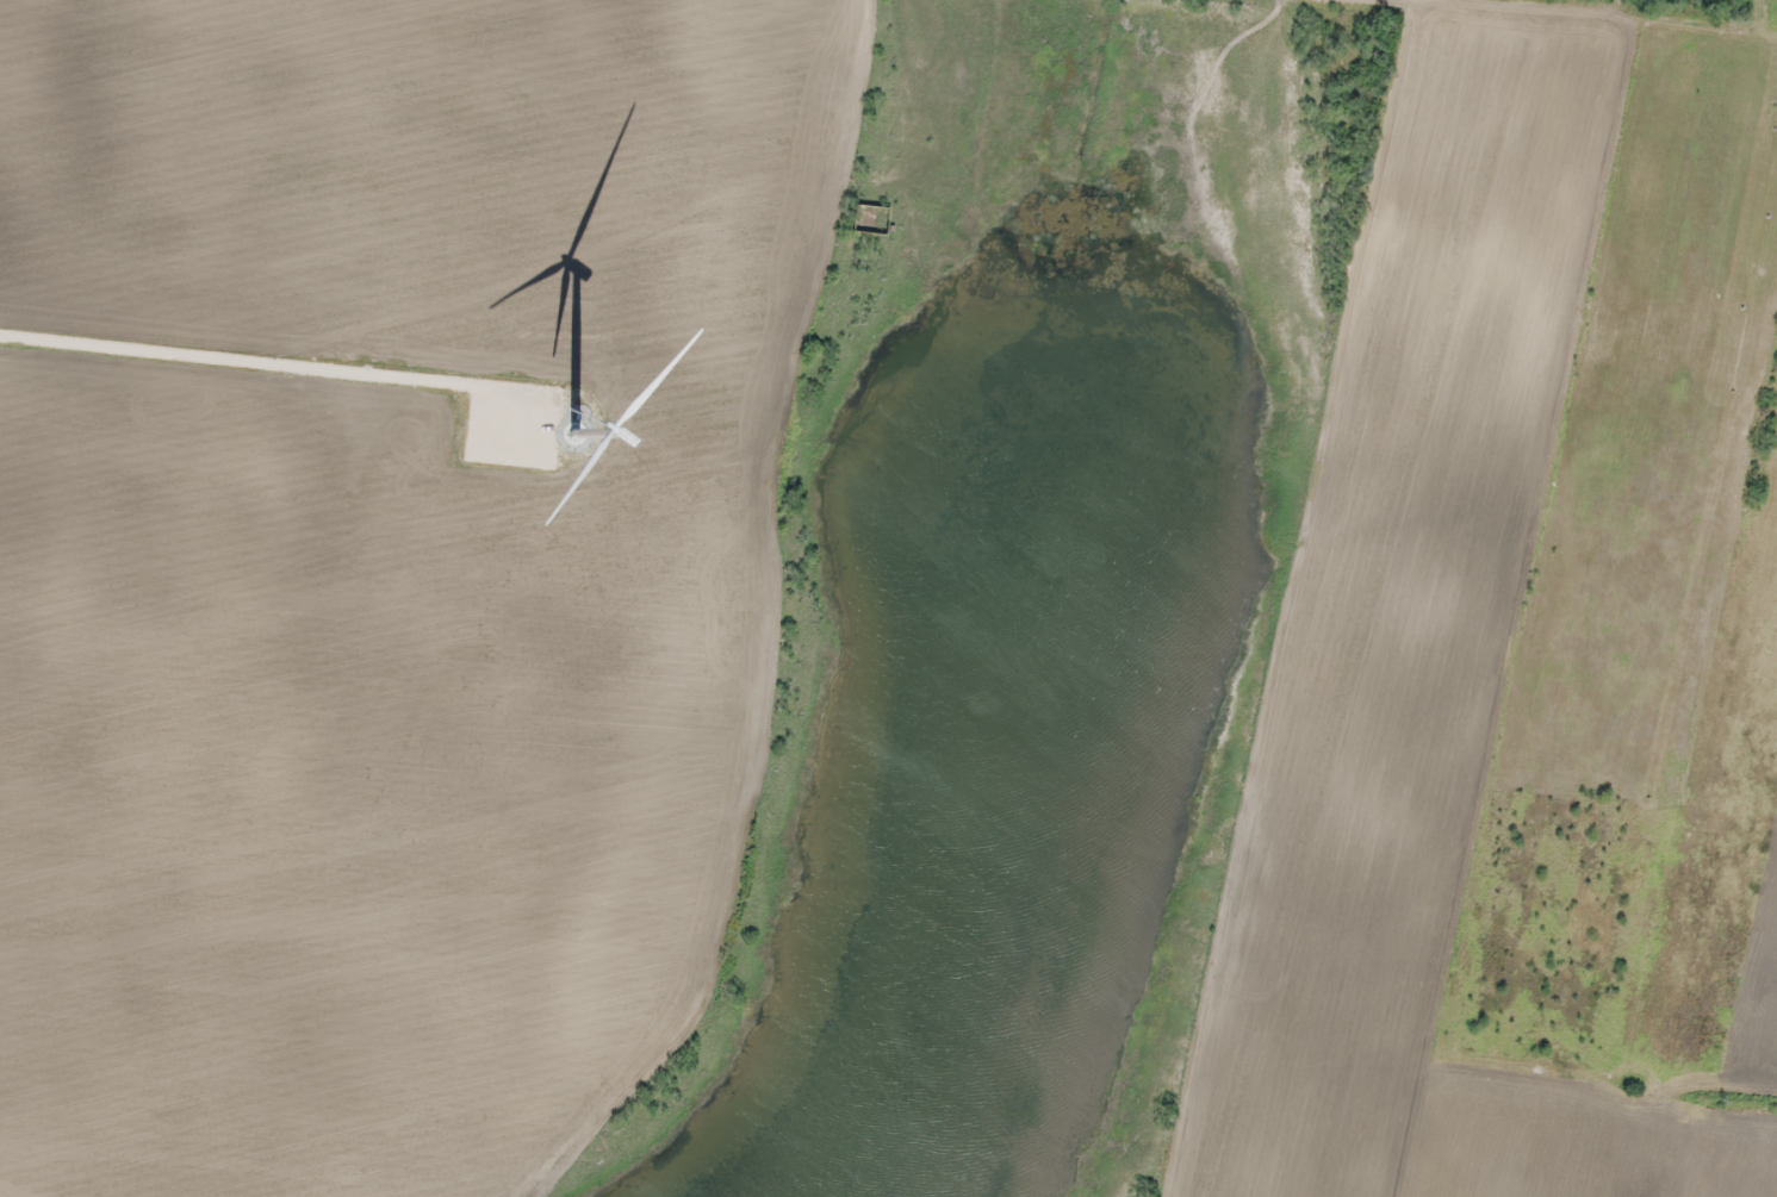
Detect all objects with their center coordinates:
road: (1627, 17)
wind turbine: (574, 425)

